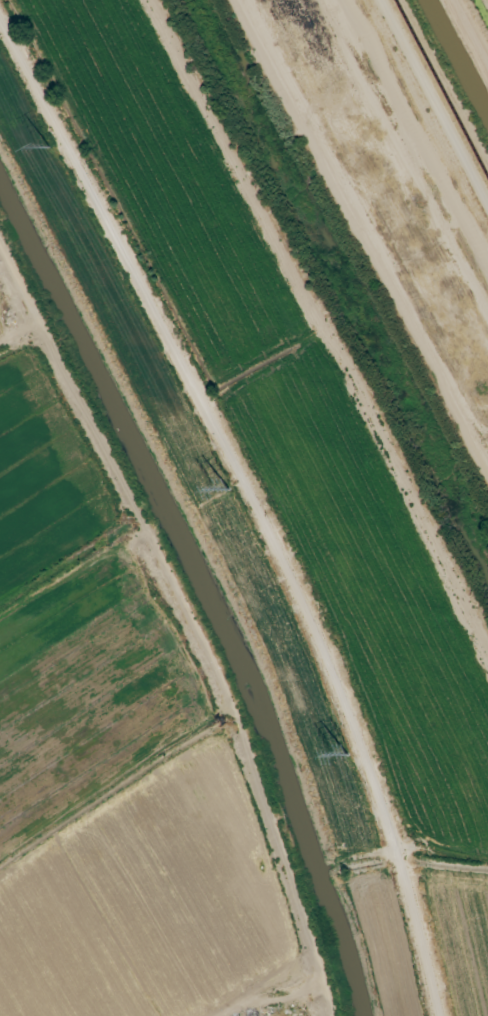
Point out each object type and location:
power tower: (46, 147)
river: (356, 283)
power tower: (224, 490)
road: (251, 503)
road: (194, 622)
power tower: (346, 757)
crop: (109, 768)

